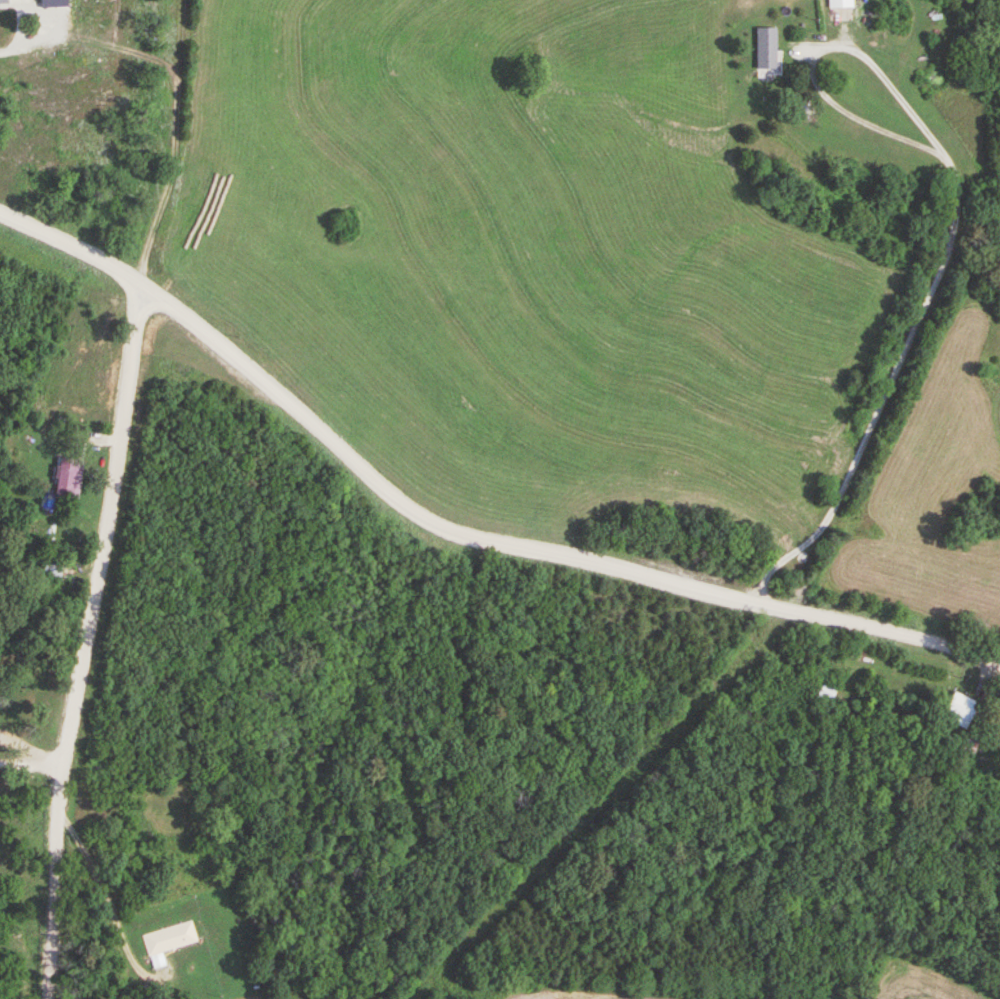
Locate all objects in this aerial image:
building: (3, 4)
building: (841, 4)
road: (48, 10)
road: (8, 50)
building: (765, 51)
road: (953, 214)
road: (73, 251)
road: (541, 266)
building: (67, 480)
road: (539, 550)
road: (82, 641)
building: (826, 691)
building: (958, 710)
building: (996, 732)
road: (30, 764)
road: (104, 900)
building: (170, 938)

